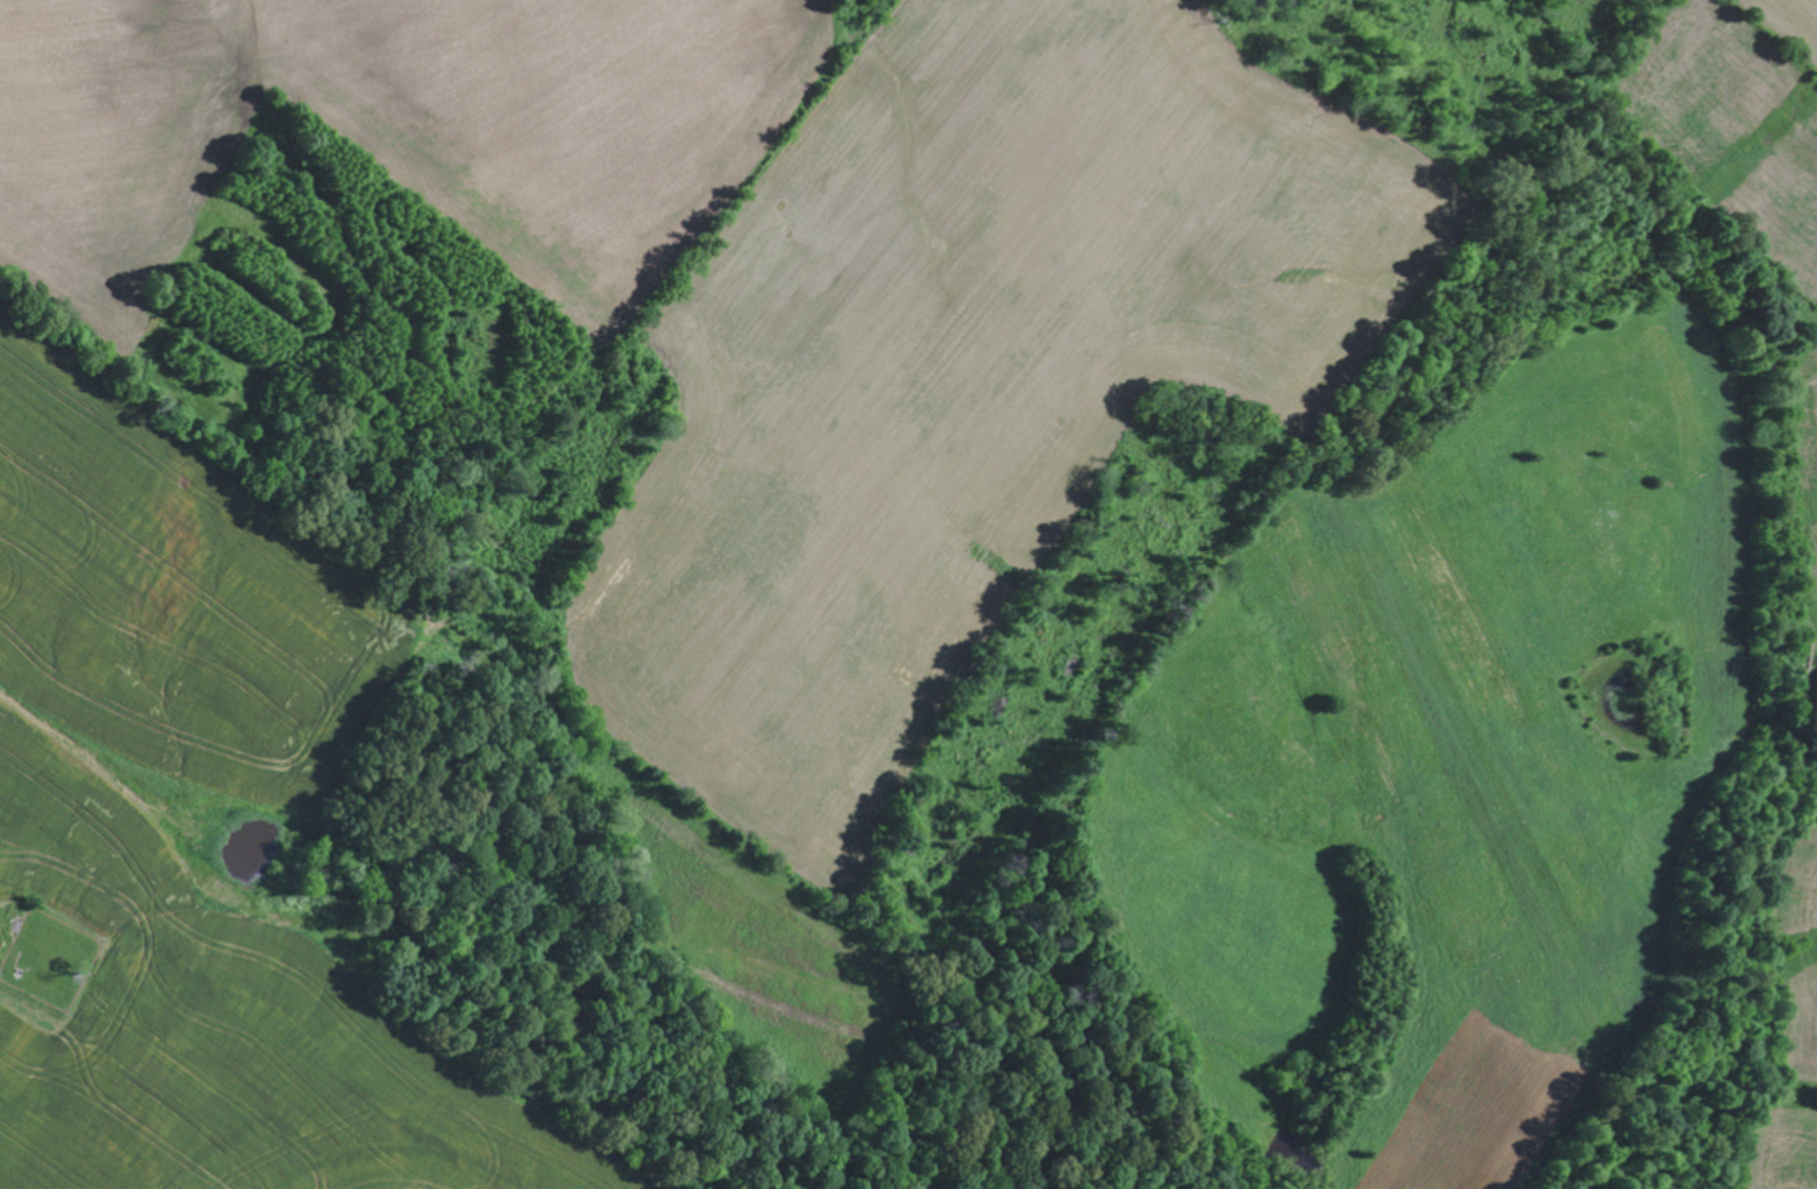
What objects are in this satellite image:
park: (47, 960)

